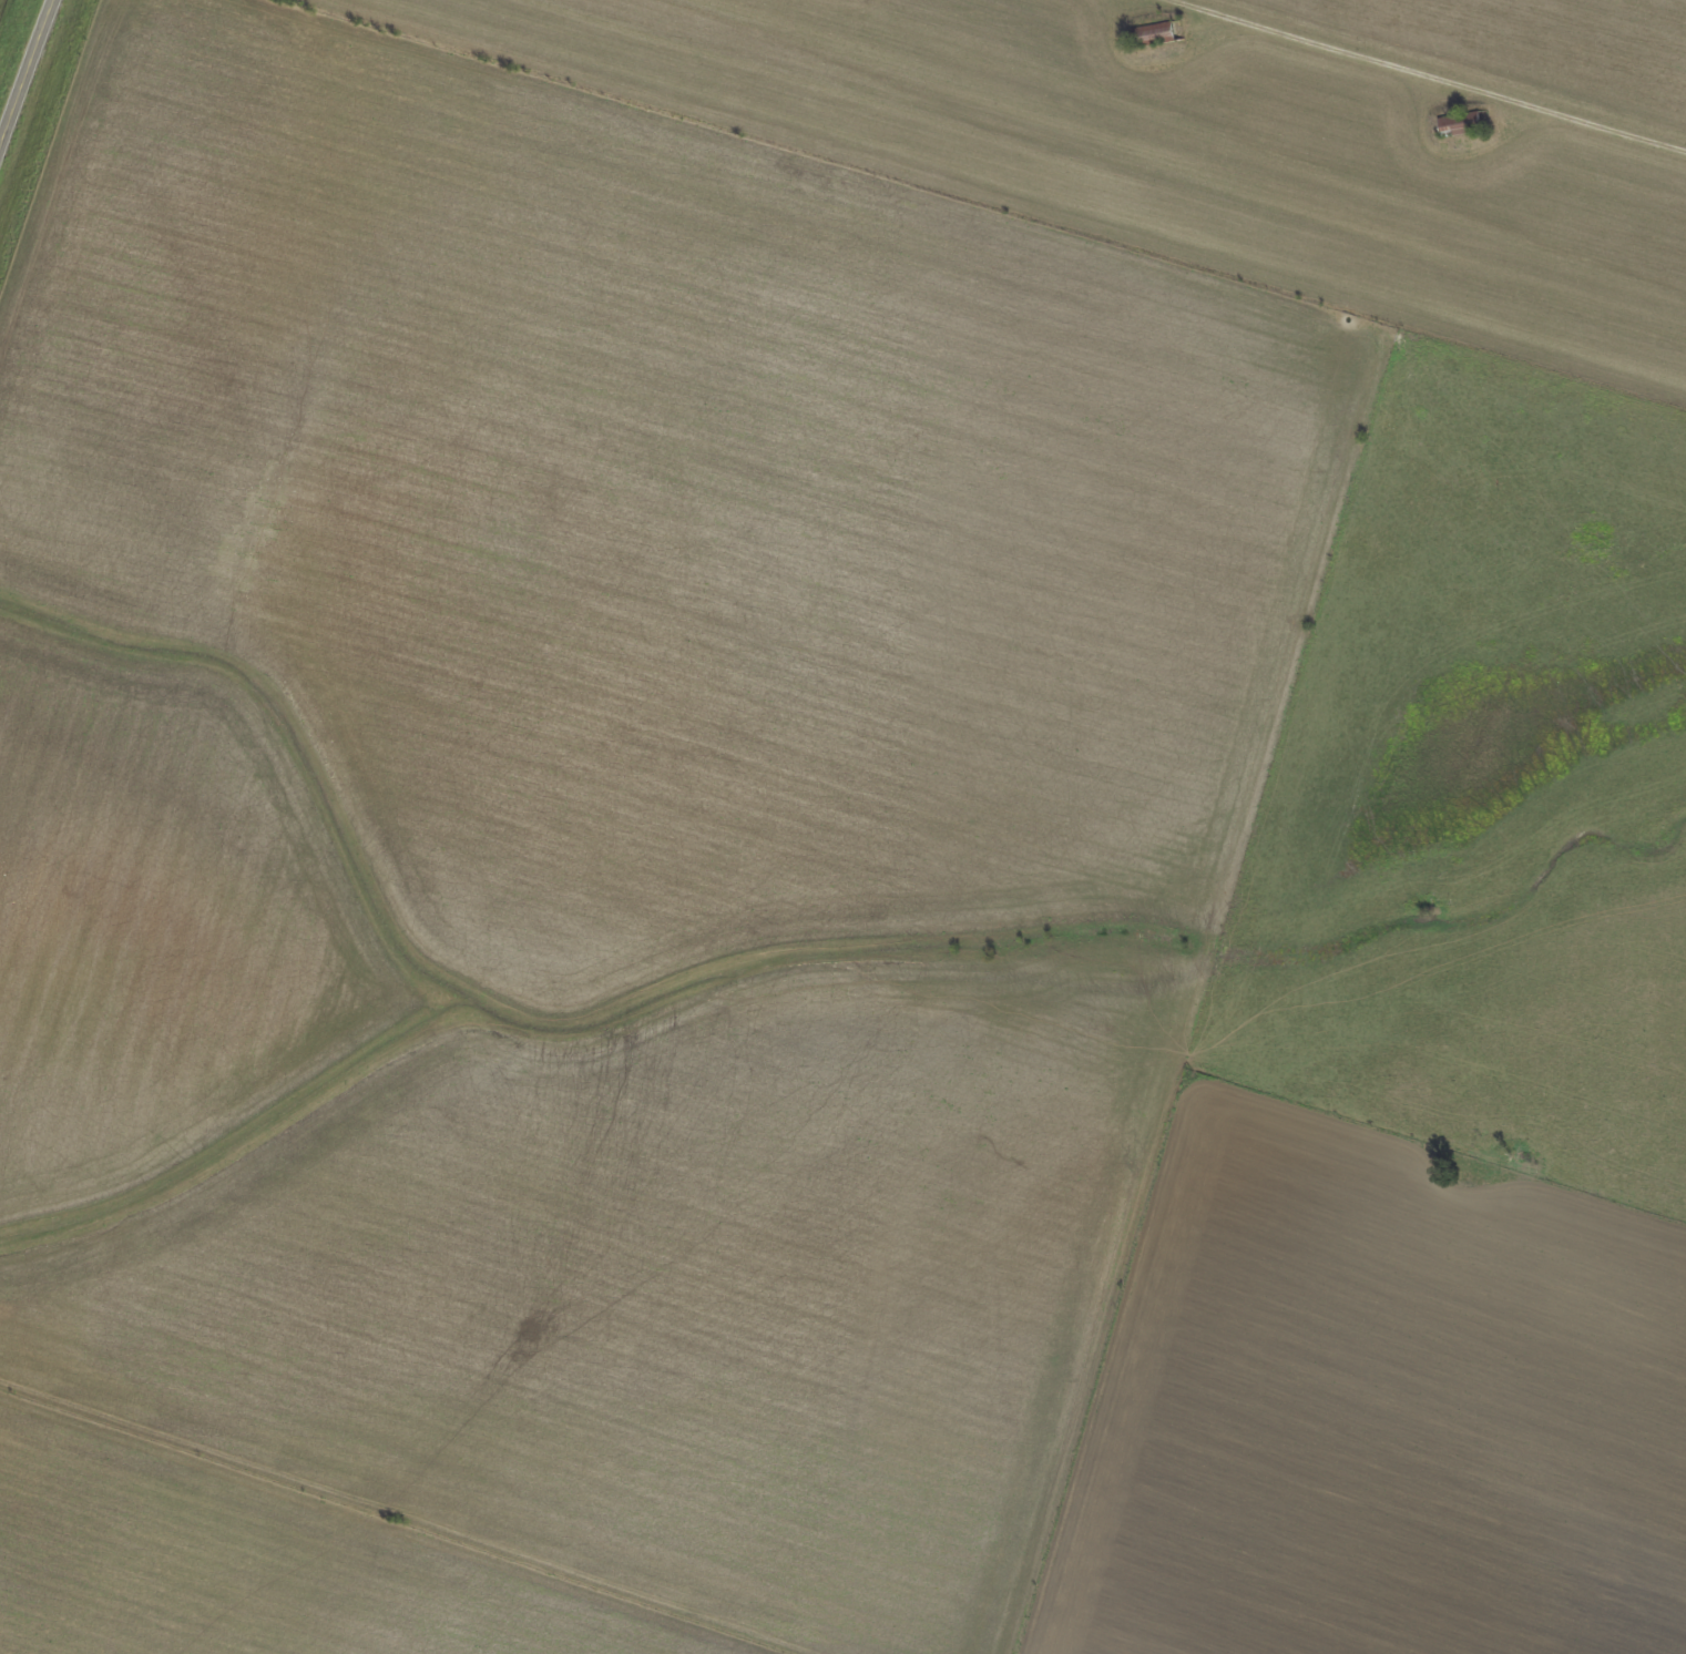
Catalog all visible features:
building: (1154, 32)
road: (24, 69)
road: (1423, 76)
building: (1461, 122)

